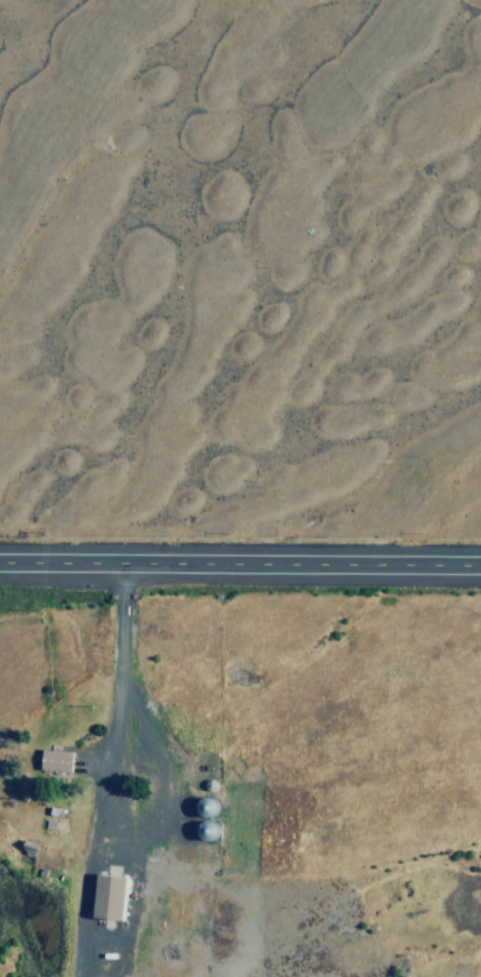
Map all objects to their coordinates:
road: (240, 561)
building: (59, 758)
road: (99, 769)
building: (206, 797)
silo: (206, 797)
building: (210, 828)
silo: (210, 828)
building: (29, 849)
building: (114, 895)

